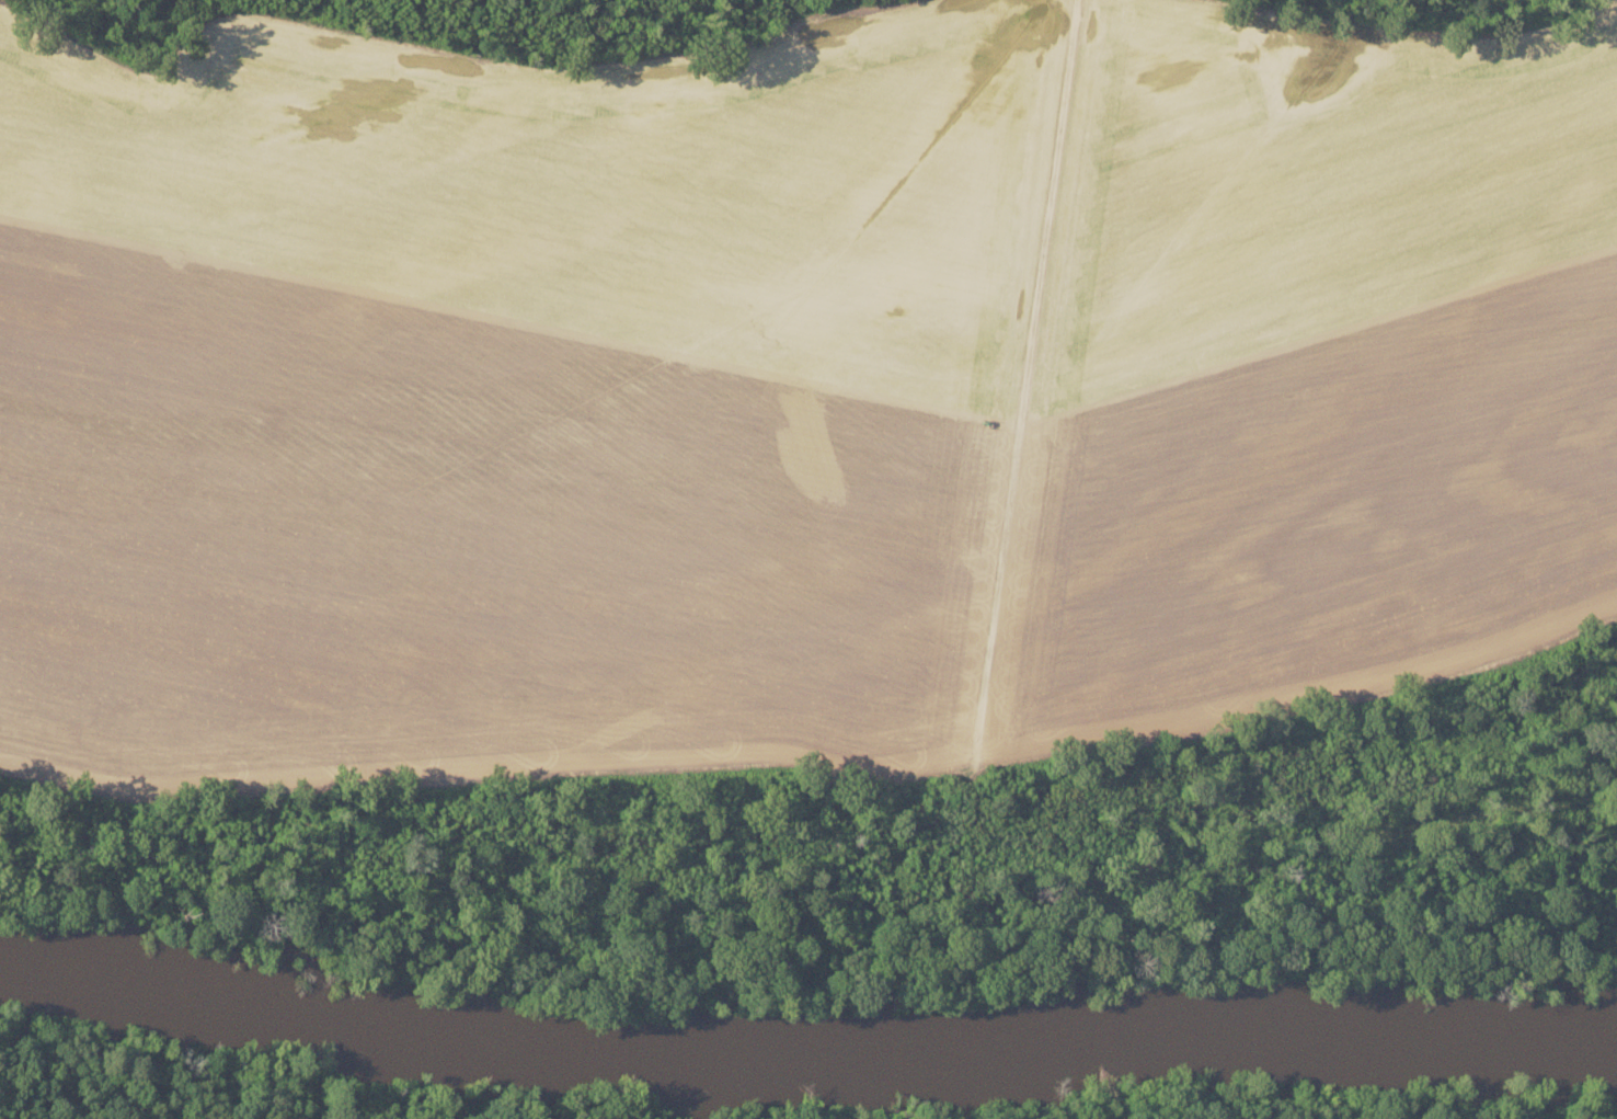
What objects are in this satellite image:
road: (1028, 373)
river: (805, 1041)

